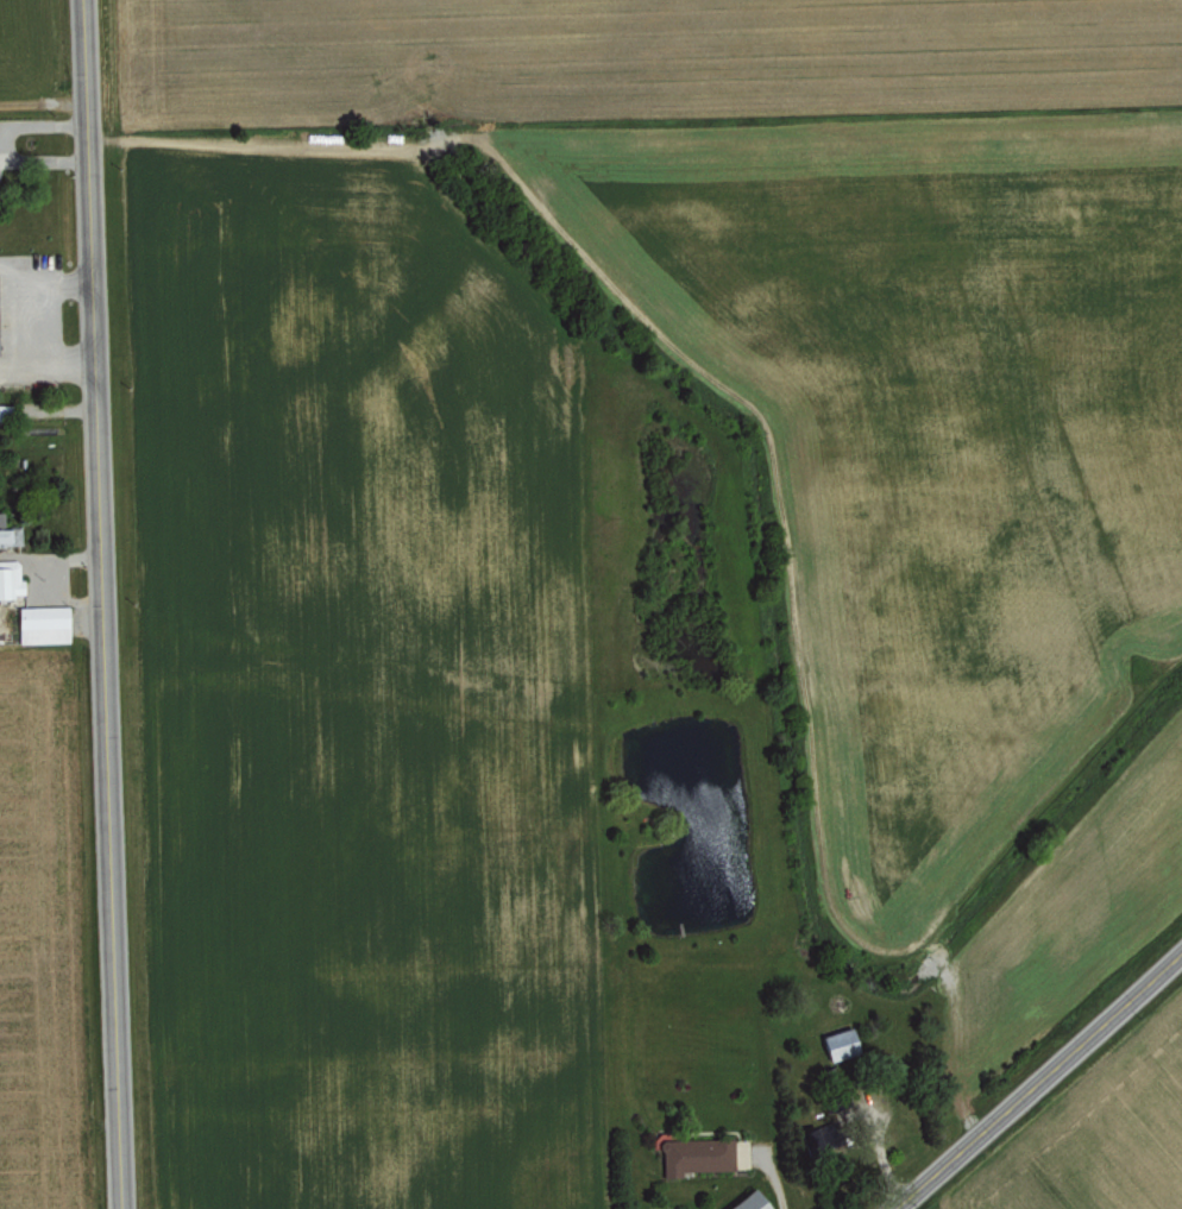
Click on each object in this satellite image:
building: (2, 411)
building: (8, 533)
building: (11, 579)
crop: (653, 600)
road: (105, 604)
building: (43, 624)
building: (840, 1043)
road: (1040, 1082)
building: (697, 1154)
road: (772, 1172)
building: (749, 1201)

